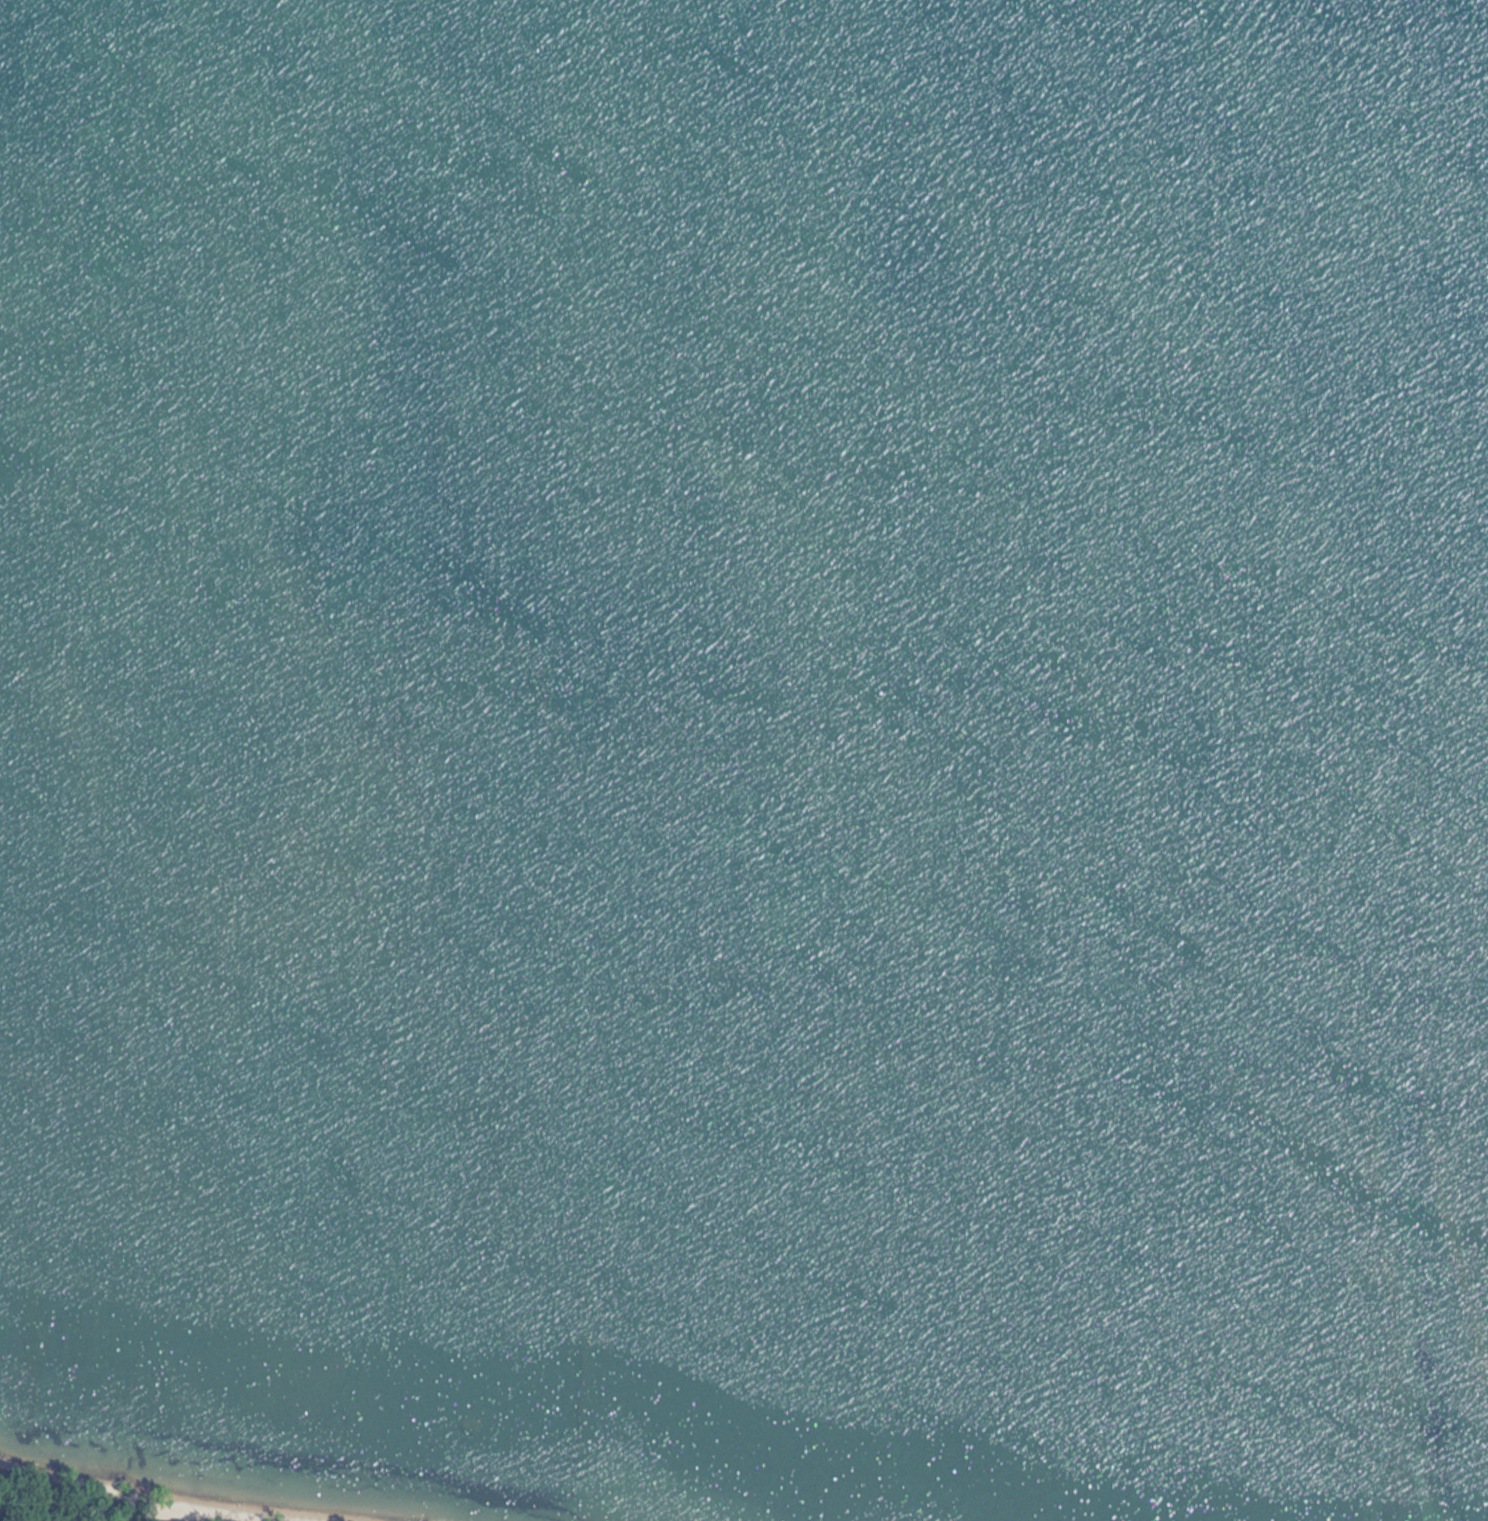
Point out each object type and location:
road: (122, 1511)

